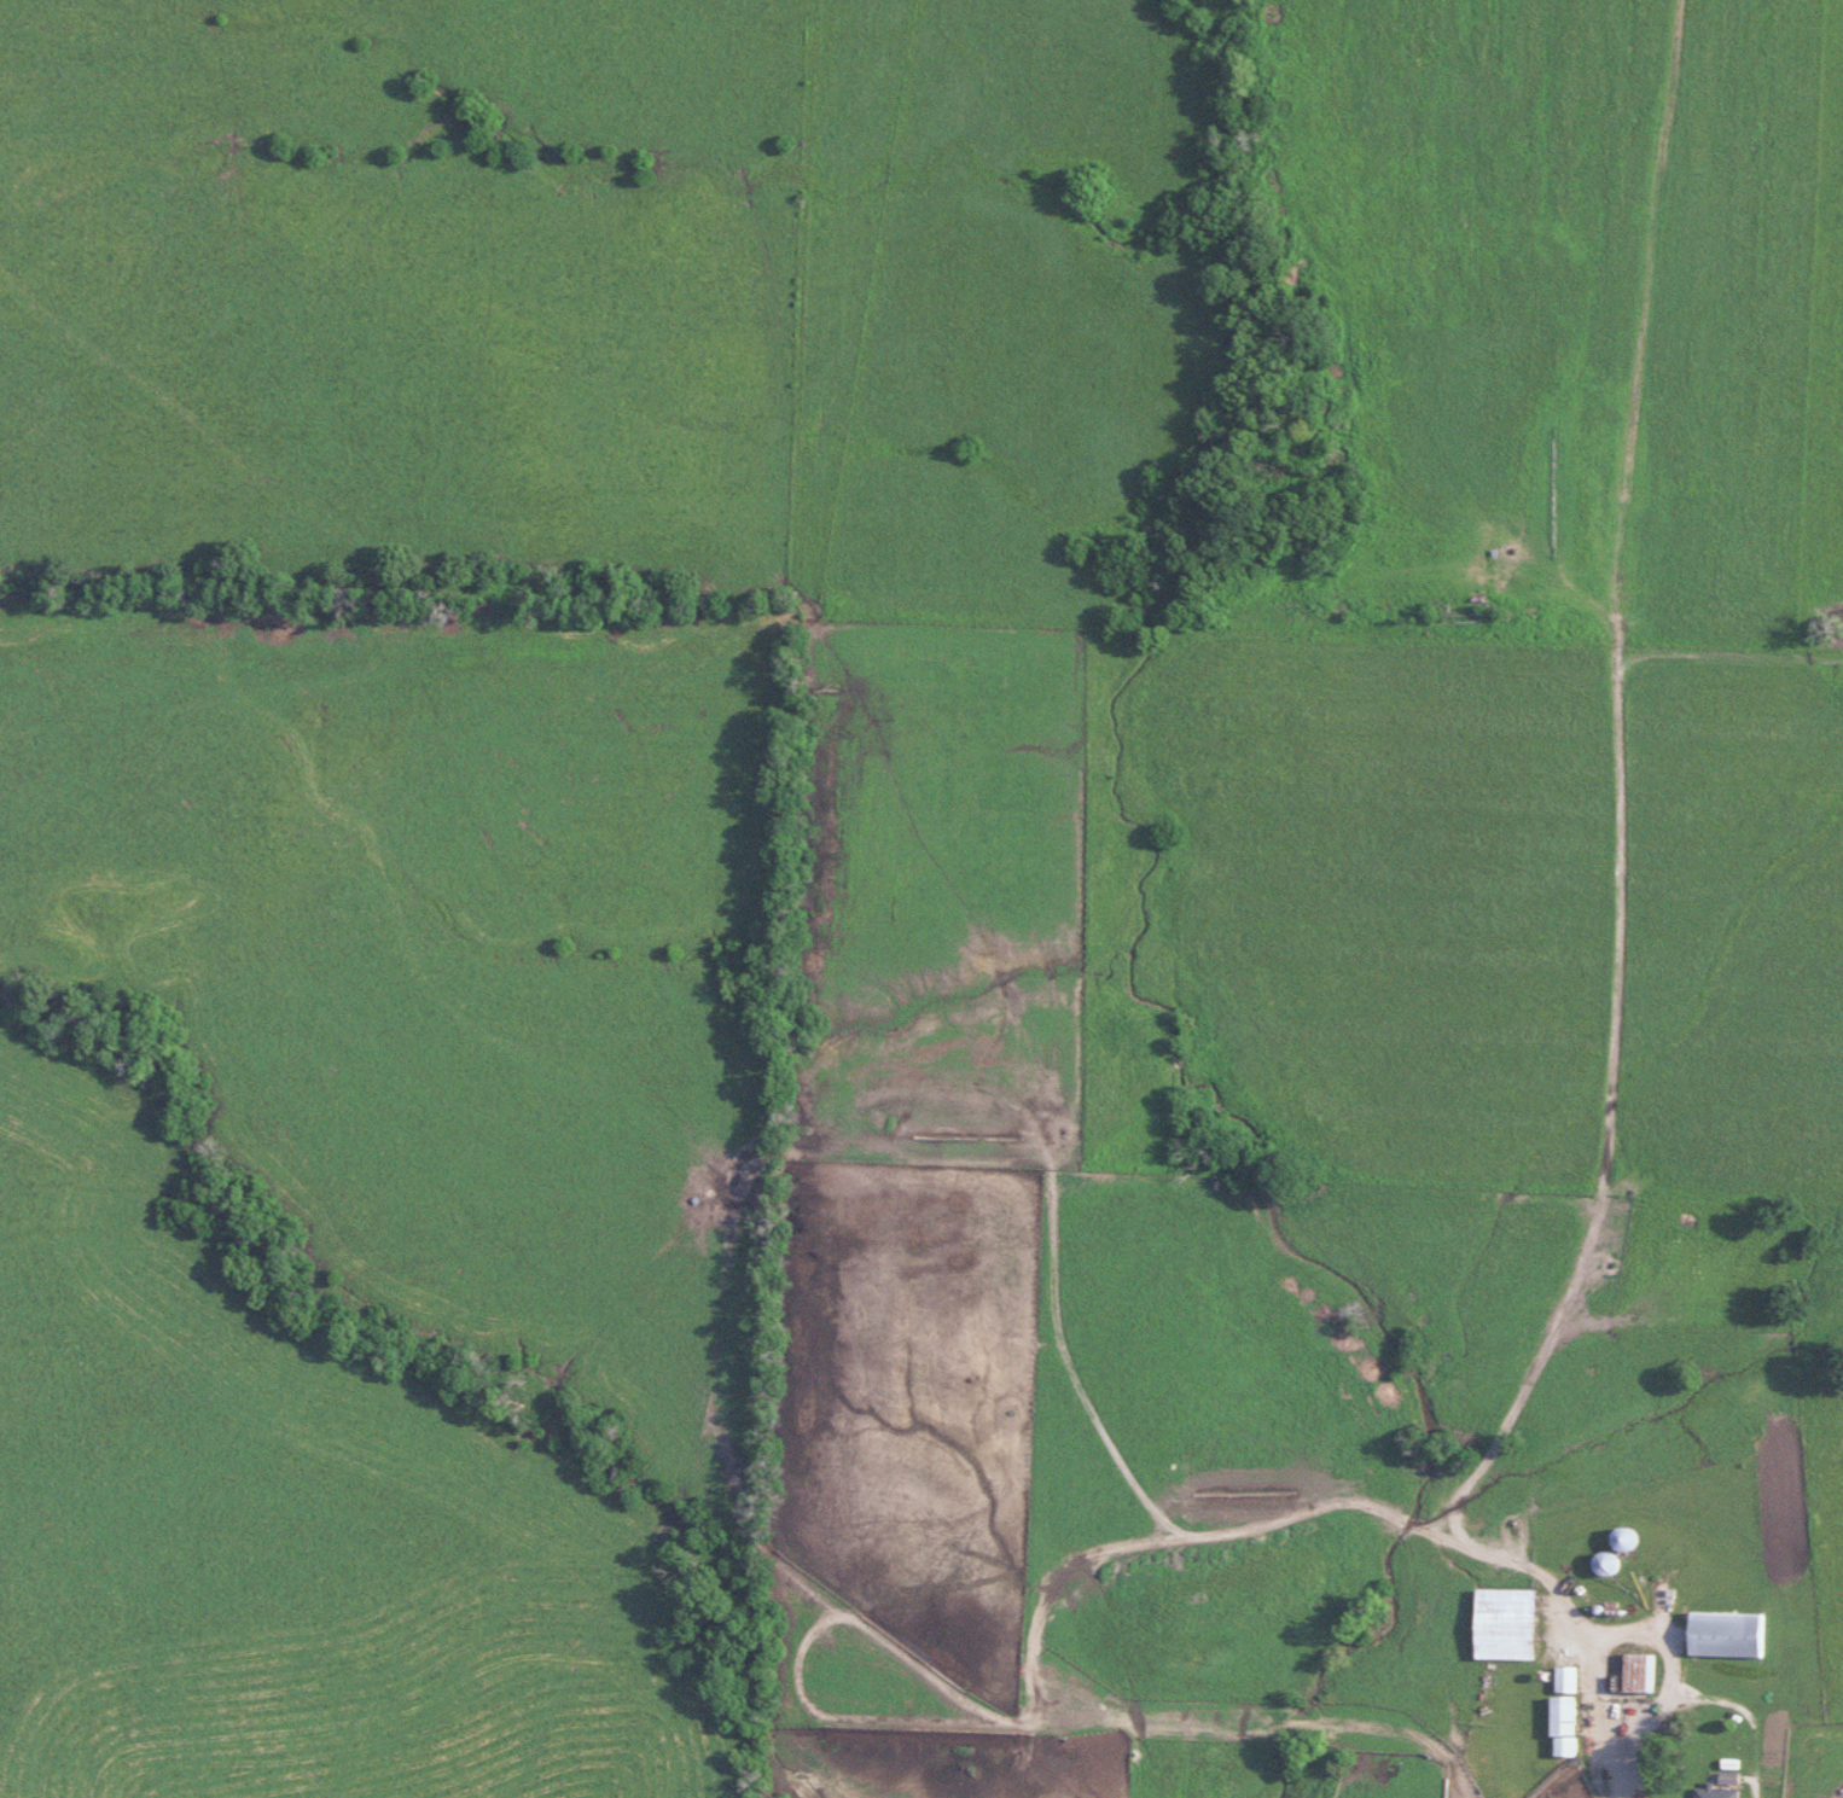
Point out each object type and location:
building: (1620, 1540)
building: (1601, 1564)
building: (1501, 1624)
building: (1722, 1634)
building: (1635, 1674)
building: (1562, 1680)
road: (1581, 1682)
building: (1559, 1727)
building: (1716, 1788)
road: (1745, 1793)

